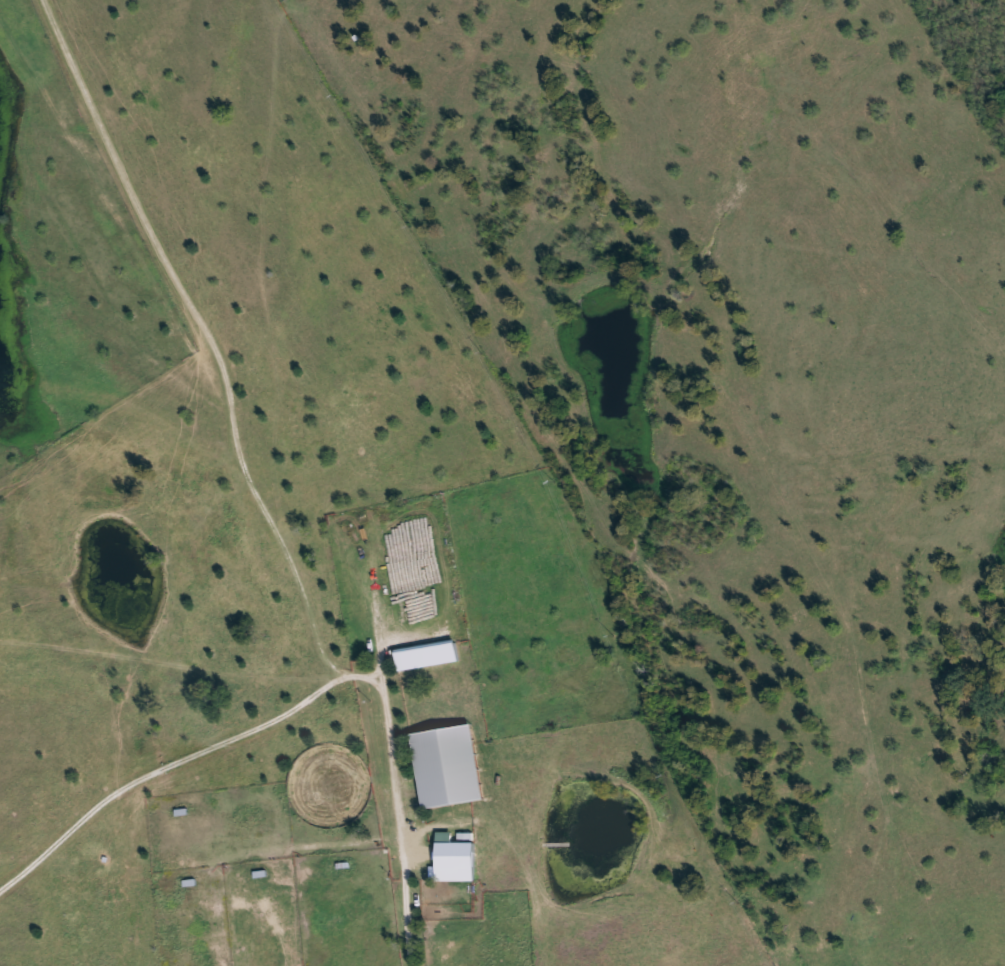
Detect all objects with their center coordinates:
building: (429, 657)
building: (449, 767)
road: (396, 796)
building: (456, 863)

